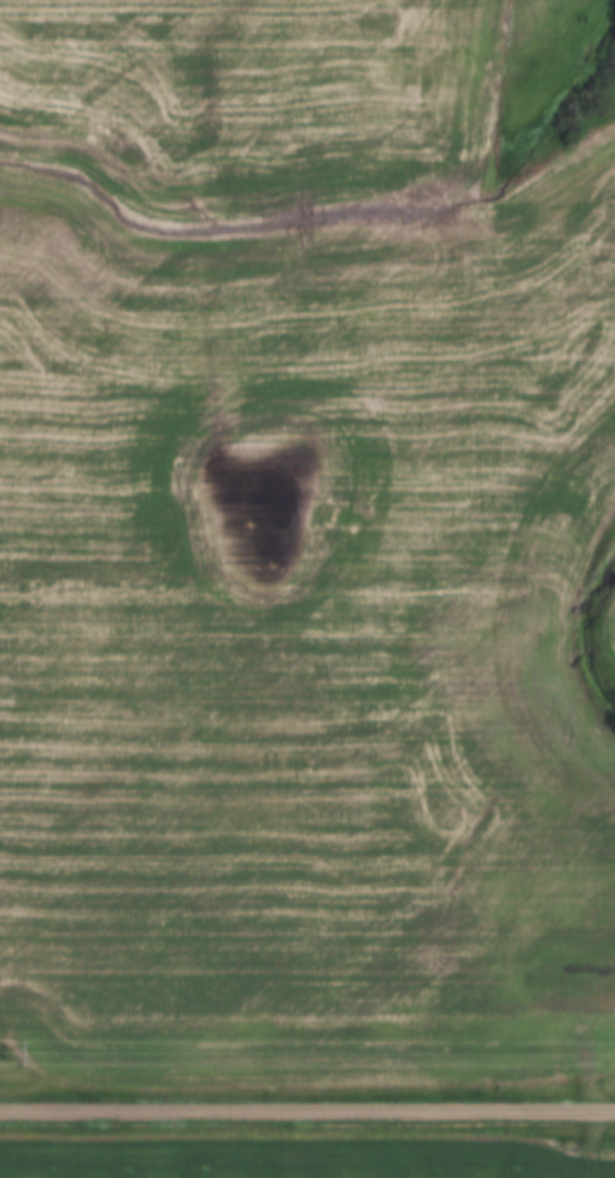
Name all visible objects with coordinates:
road: (306, 1110)

